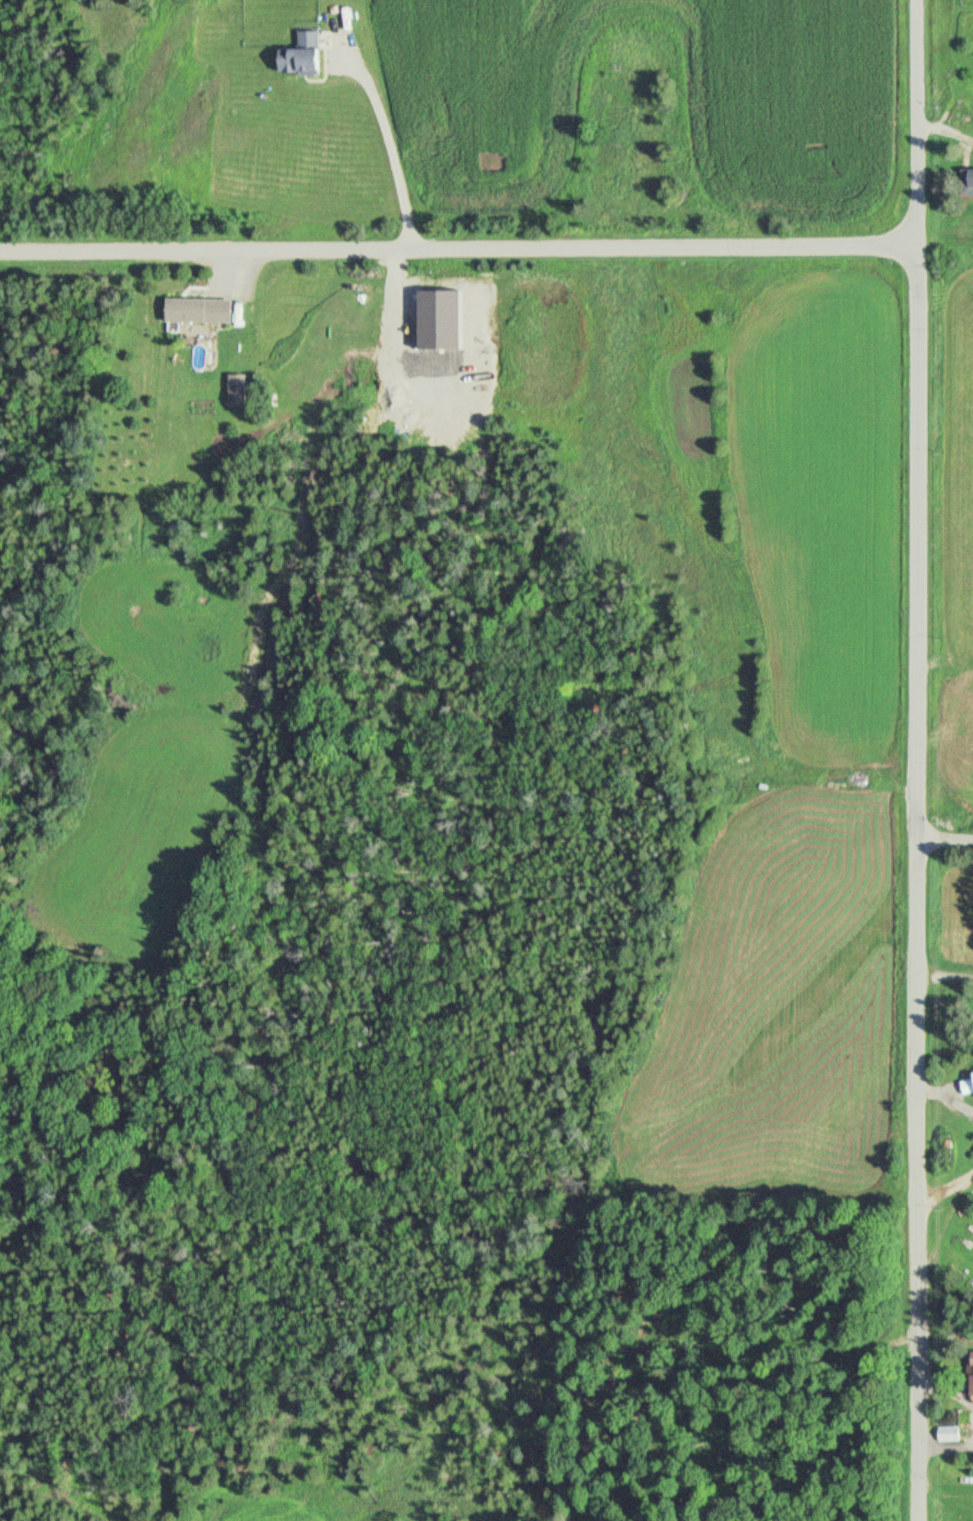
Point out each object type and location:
building: (309, 50)
road: (396, 135)
building: (970, 179)
road: (462, 248)
building: (206, 307)
building: (244, 387)
road: (925, 760)
road: (949, 839)
road: (949, 977)
building: (968, 1081)
road: (950, 1096)
road: (950, 1194)
road: (846, 1421)
building: (956, 1431)

